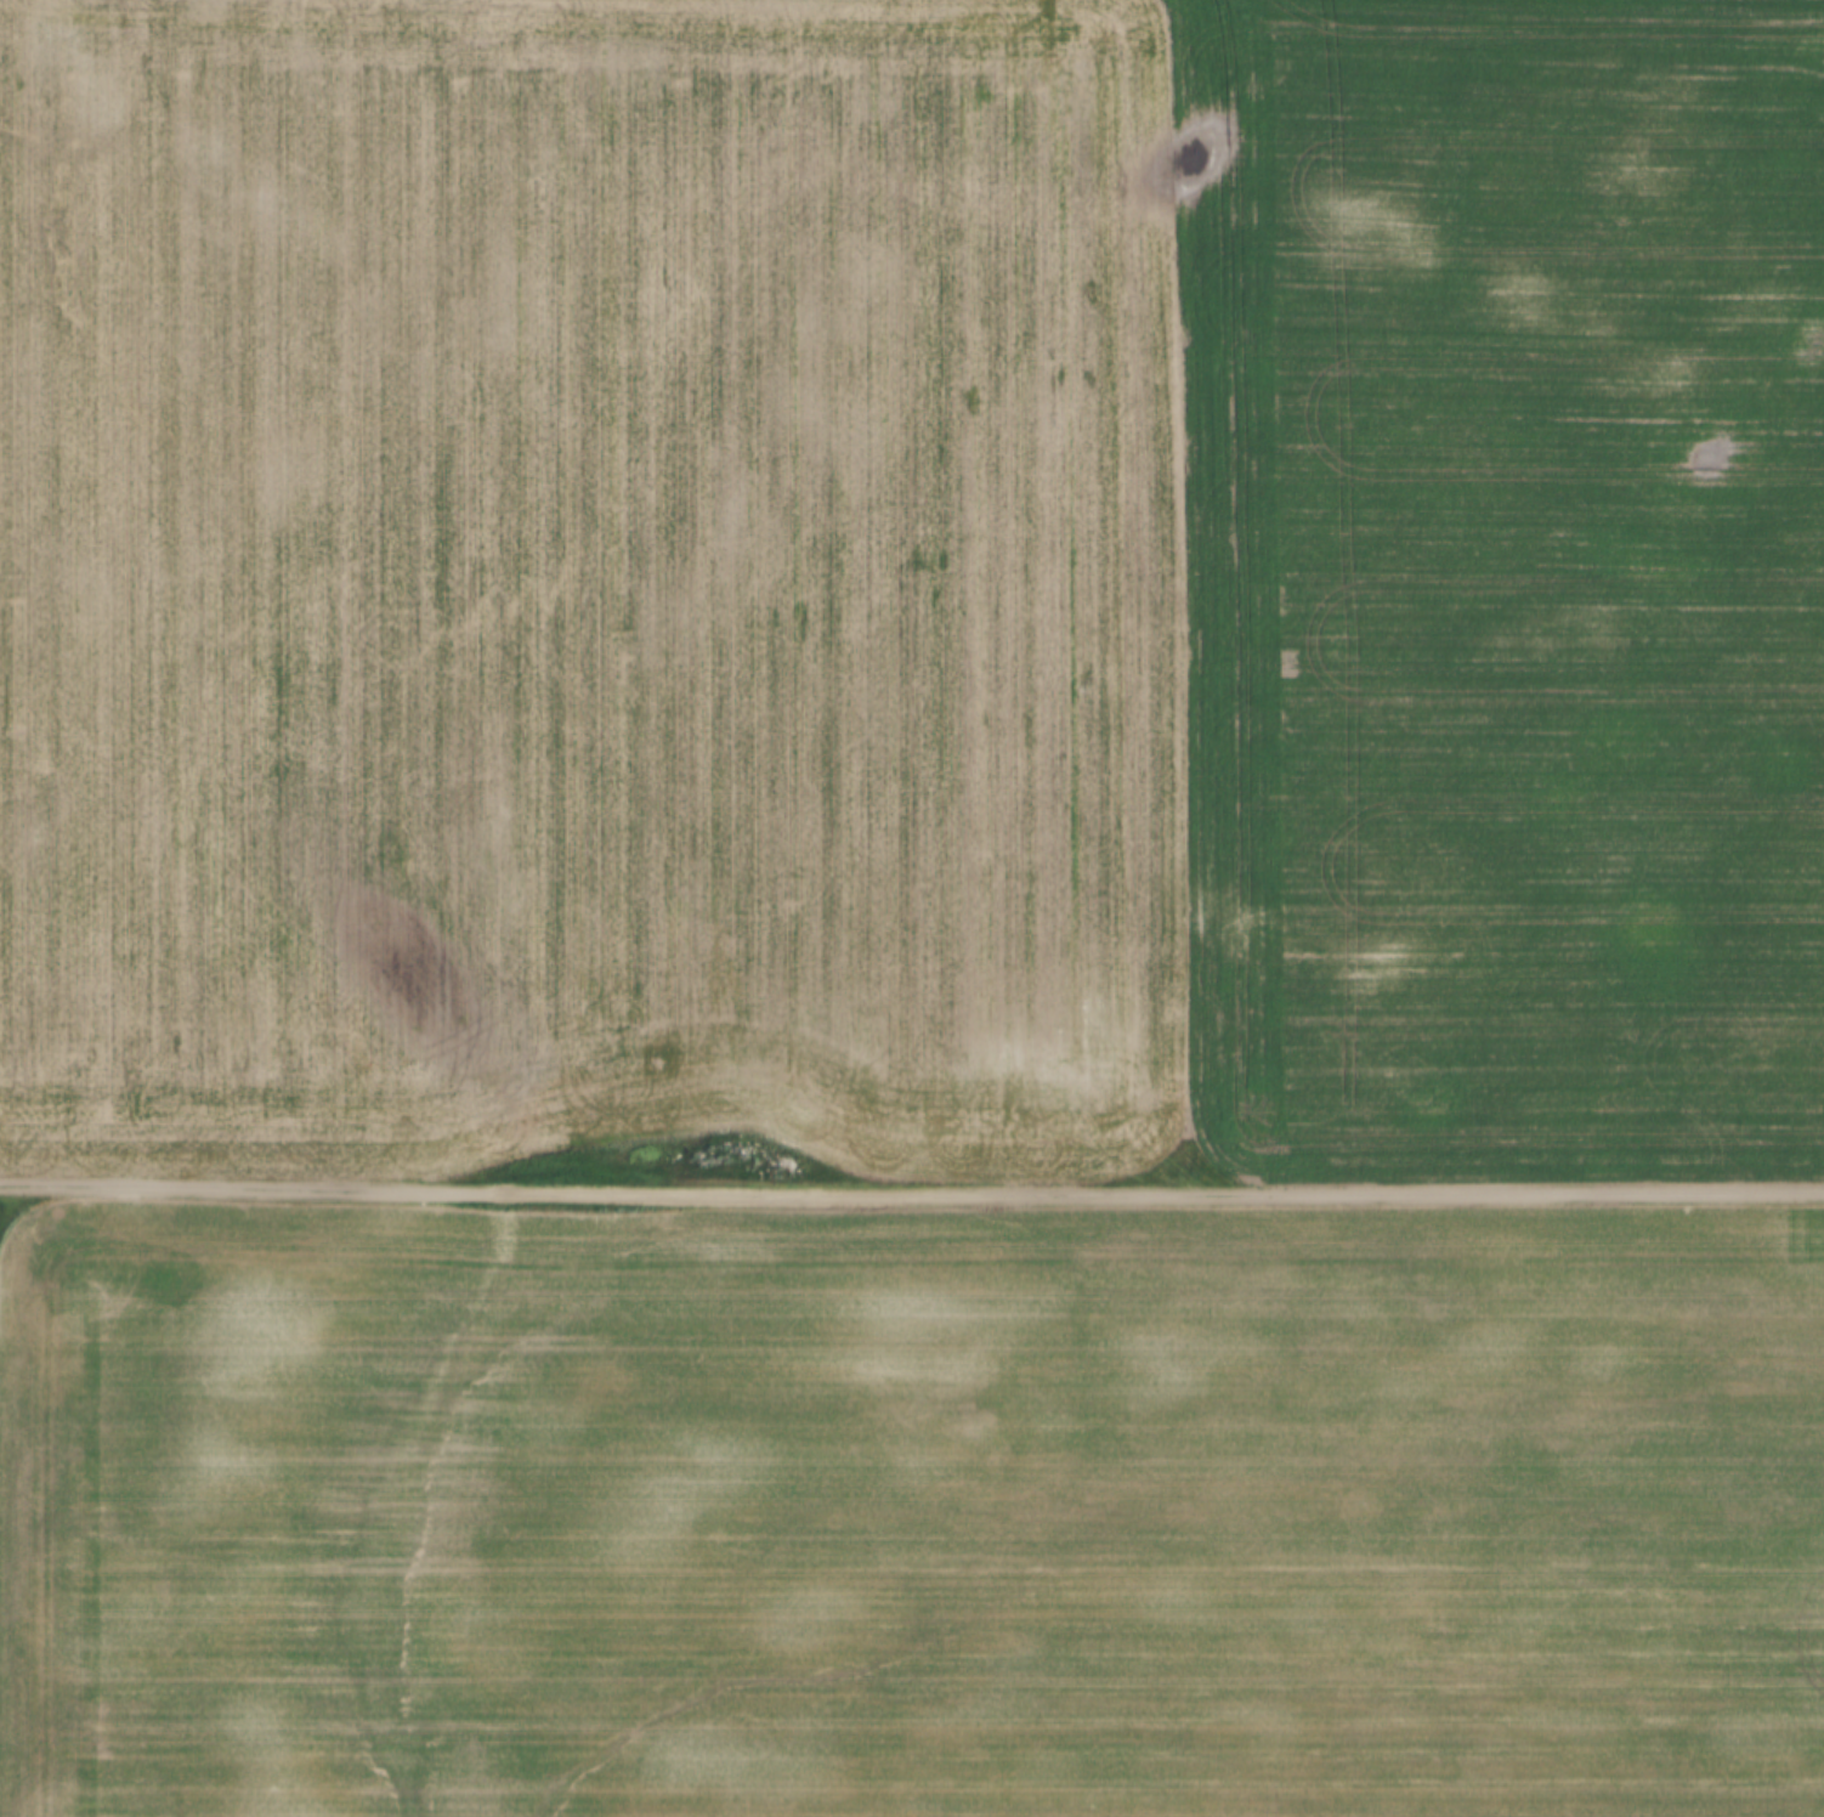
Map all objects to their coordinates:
road: (912, 1194)

